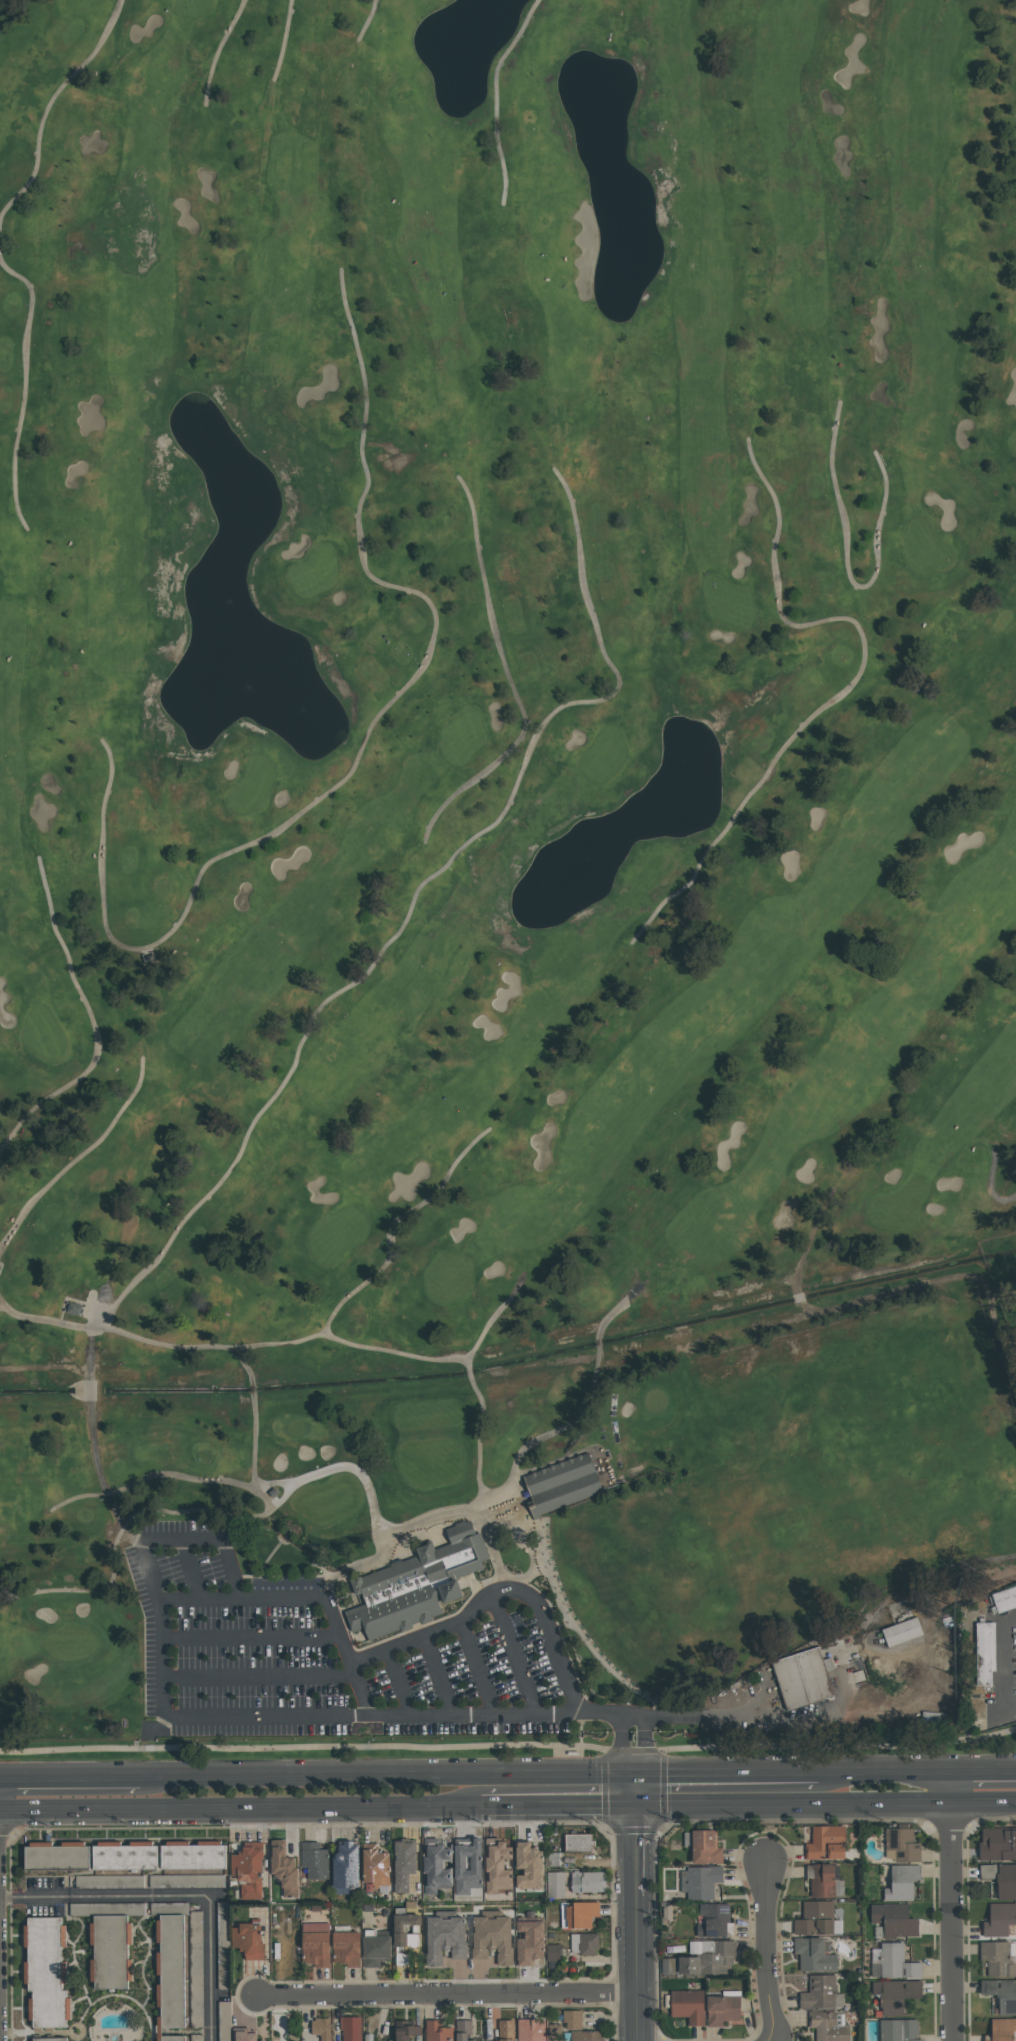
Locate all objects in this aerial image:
road: (366, 22)
road: (284, 39)
road: (217, 52)
road: (494, 97)
road: (49, 102)
road: (21, 385)
road: (848, 564)
road: (508, 675)
road: (847, 686)
road: (361, 749)
park: (504, 864)
park: (507, 879)
road: (388, 942)
road: (91, 1018)
road: (82, 1155)
road: (990, 1181)
road: (394, 1222)
road: (808, 1235)
road: (913, 1287)
road: (800, 1297)
road: (3, 1306)
road: (614, 1311)
road: (495, 1316)
road: (596, 1343)
road: (283, 1344)
road: (245, 1363)
road: (469, 1374)
road: (252, 1388)
road: (91, 1428)
road: (545, 1434)
road: (479, 1445)
road: (149, 1477)
building: (563, 1485)
road: (142, 1508)
road: (343, 1539)
road: (182, 1541)
road: (230, 1571)
road: (191, 1572)
building: (416, 1586)
road: (496, 1593)
road: (306, 1599)
building: (1006, 1601)
building: (901, 1631)
road: (252, 1638)
building: (985, 1656)
road: (513, 1657)
road: (1006, 1665)
road: (476, 1673)
road: (259, 1678)
road: (437, 1679)
building: (803, 1680)
road: (397, 1686)
road: (731, 1708)
road: (636, 1718)
road: (283, 1719)
road: (509, 1746)
road: (621, 1747)
road: (644, 1747)
road: (983, 1770)
road: (884, 1771)
road: (726, 1773)
traffic signals: (635, 1774)
road: (387, 1775)
road: (70, 1777)
road: (951, 1786)
road: (635, 1789)
road: (983, 1801)
road: (793, 1803)
road: (558, 1804)
traffic signals: (636, 1804)
road: (240, 1806)
building: (581, 1842)
building: (827, 1842)
building: (998, 1843)
building: (903, 1844)
building: (454, 1845)
building: (705, 1845)
road: (636, 1849)
building: (196, 1854)
building: (59, 1855)
building: (128, 1855)
building: (316, 1859)
building: (554, 1859)
building: (405, 1863)
building: (471, 1863)
building: (500, 1864)
building: (378, 1865)
building: (438, 1865)
building: (532, 1865)
building: (286, 1867)
building: (349, 1867)
building: (250, 1869)
building: (1002, 1878)
building: (112, 1880)
building: (187, 1880)
building: (826, 1880)
building: (589, 1881)
building: (701, 1881)
building: (903, 1882)
building: (556, 1884)
road: (35, 1897)
road: (212, 1897)
building: (579, 1914)
building: (817, 1917)
building: (896, 1919)
building: (1000, 1919)
building: (716, 1920)
road: (951, 1921)
building: (404, 1932)
building: (448, 1936)
building: (495, 1936)
building: (250, 1939)
building: (111, 1940)
building: (533, 1940)
building: (317, 1943)
building: (584, 1943)
building: (223, 1945)
building: (348, 1946)
building: (378, 1947)
building: (555, 1951)
road: (767, 1954)
building: (815, 1954)
building: (709, 1956)
building: (998, 1958)
building: (895, 1962)
building: (180, 1964)
building: (669, 1965)
road: (637, 1967)
building: (48, 1971)
building: (820, 1991)
building: (1002, 1993)
road: (446, 1994)
building: (897, 1994)
building: (690, 2005)
building: (725, 2008)
building: (573, 2019)
building: (224, 2020)
building: (830, 2026)
building: (322, 2027)
building: (352, 2028)
building: (532, 2029)
building: (407, 2030)
building: (465, 2030)
building: (508, 2030)
building: (900, 2030)
building: (1002, 2030)
building: (439, 2031)
building: (555, 2032)
building: (245, 2035)
building: (588, 2035)
building: (369, 2037)
building: (181, 2038)
building: (52, 2039)
building: (265, 2040)

